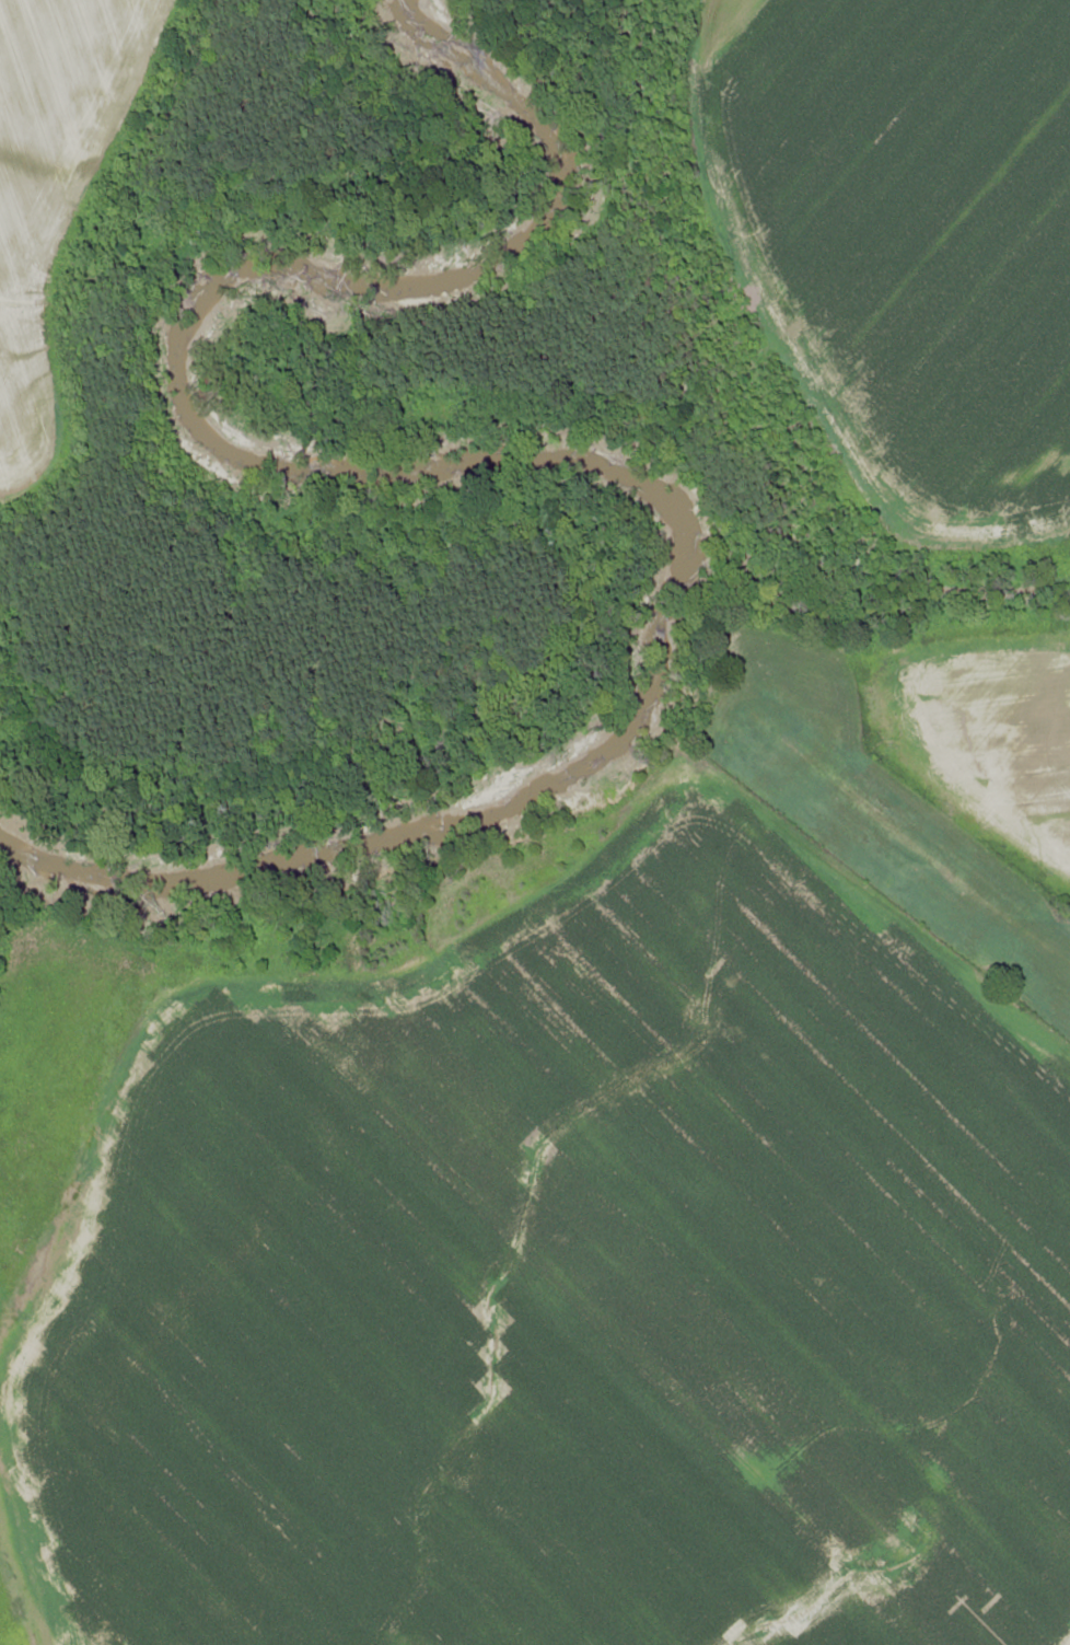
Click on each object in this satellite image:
river: (505, 454)

